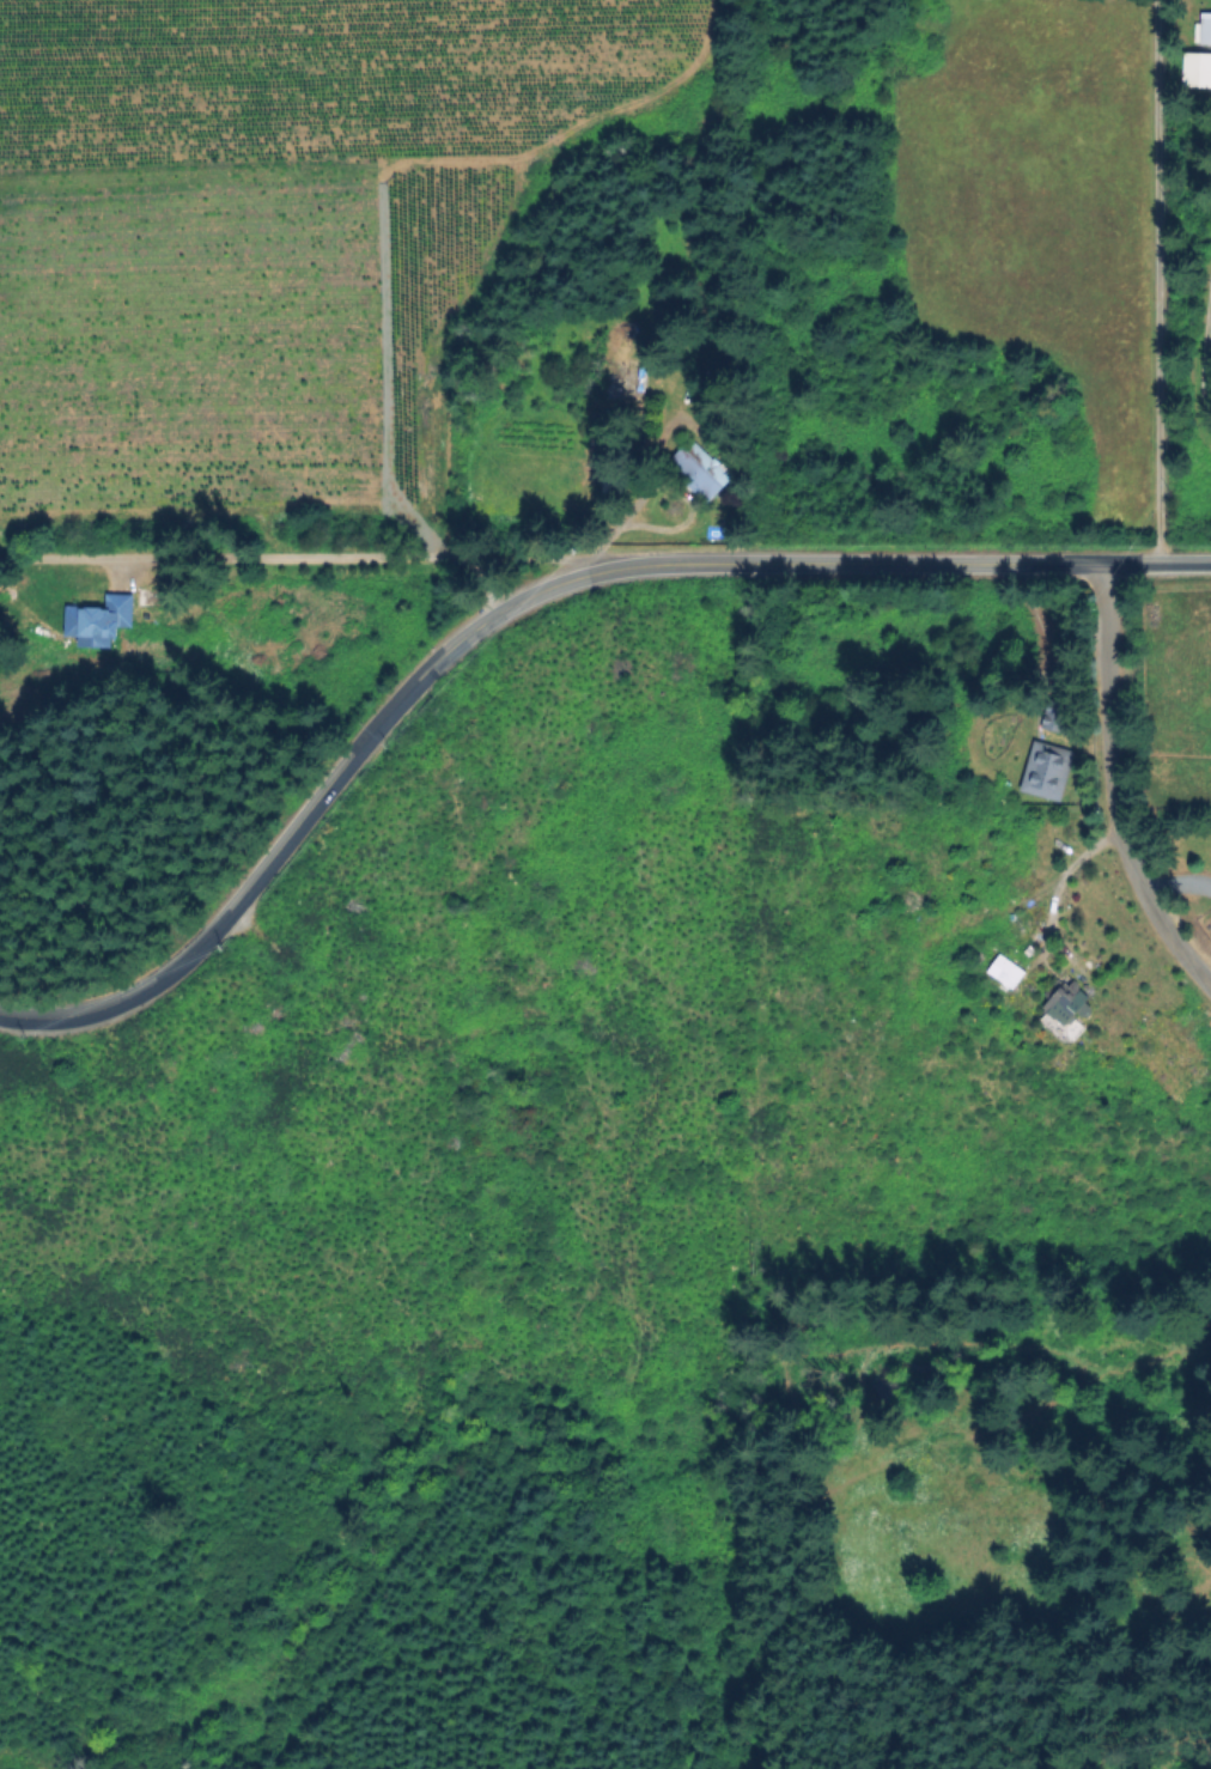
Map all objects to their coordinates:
building: (1204, 30)
road: (1154, 280)
road: (1204, 335)
building: (695, 472)
road: (675, 529)
road: (297, 559)
road: (522, 596)
building: (96, 622)
building: (1043, 771)
road: (1113, 786)
road: (1046, 869)
building: (1063, 998)

